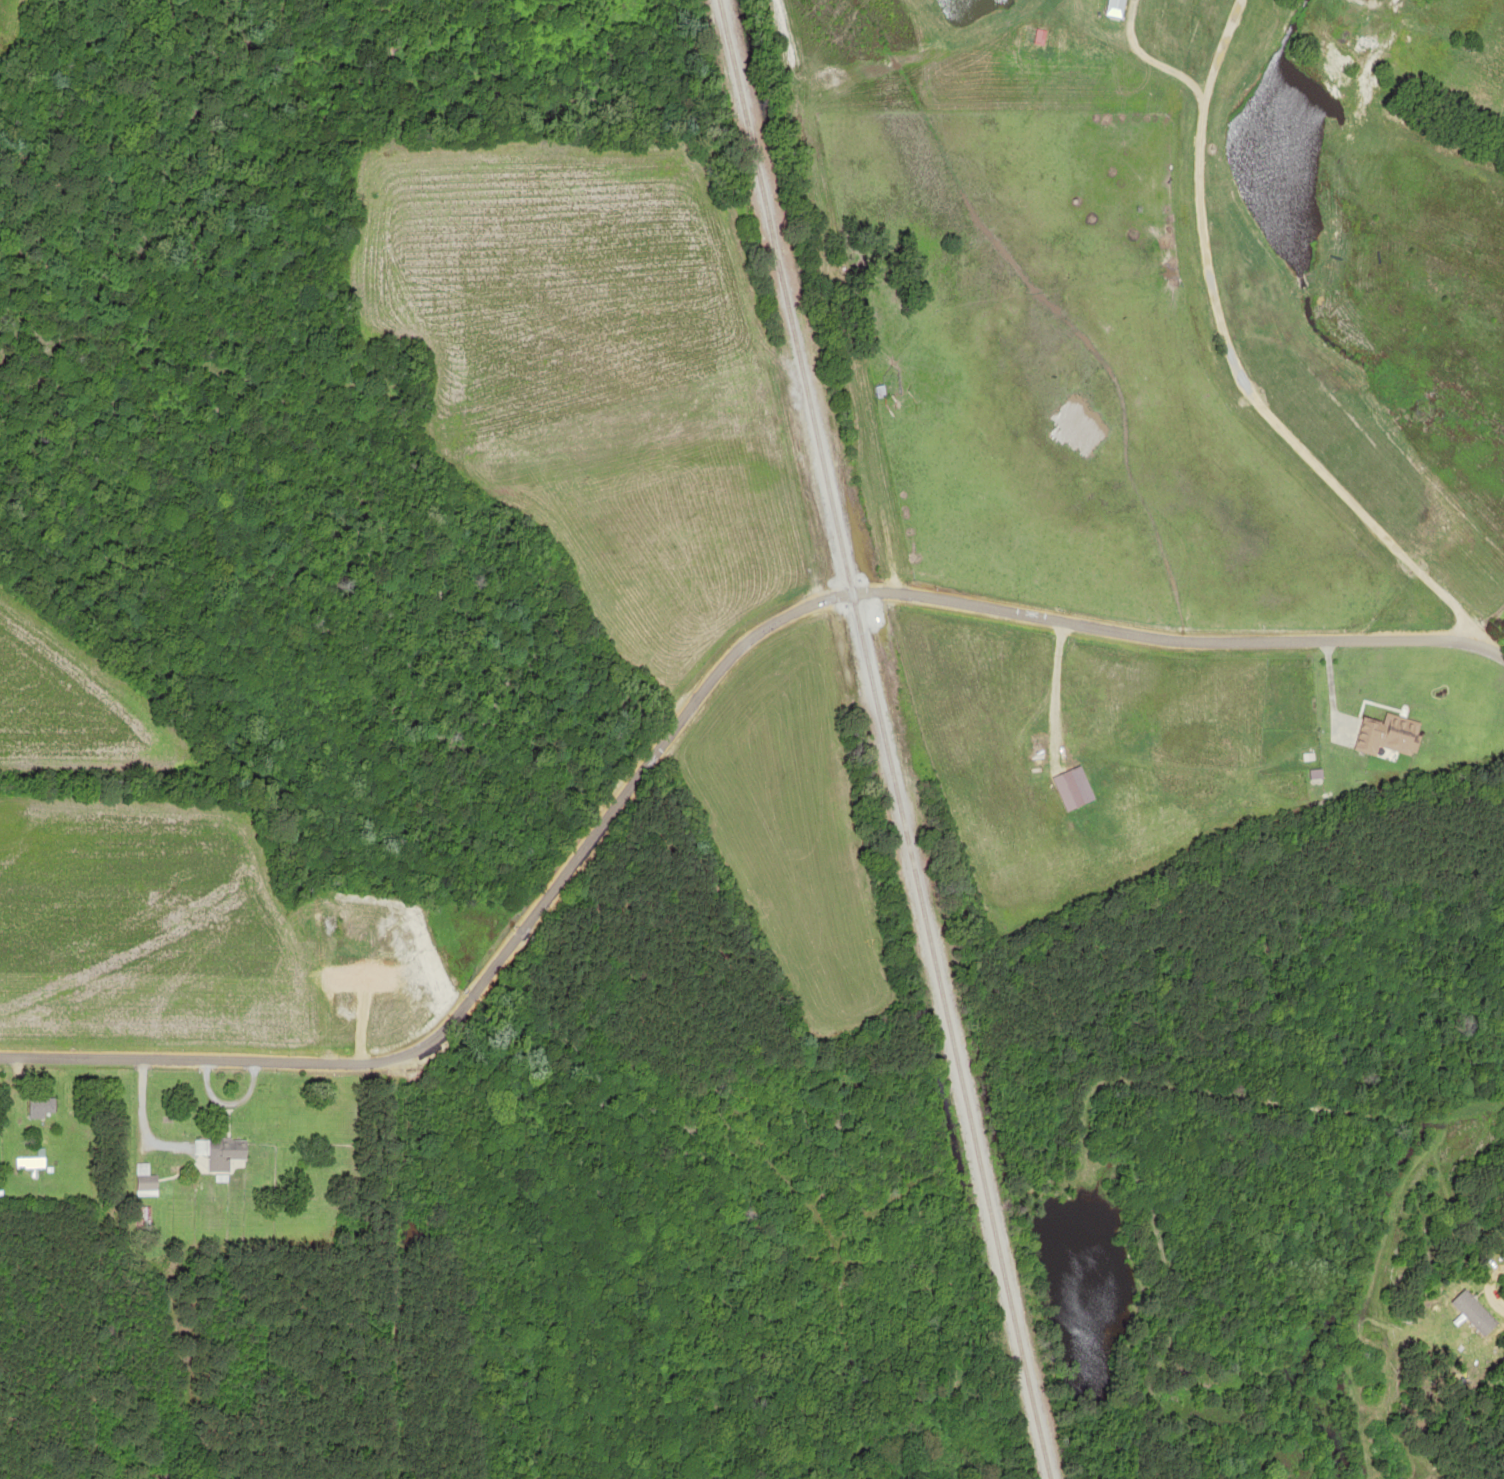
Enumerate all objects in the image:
crop: (4, 5)
road: (1233, 365)
crop: (632, 480)
road: (702, 672)
crop: (54, 675)
building: (1383, 734)
railway: (871, 739)
building: (1063, 789)
crop: (144, 928)
building: (344, 1009)
building: (41, 1107)
building: (218, 1151)
building: (149, 1181)

